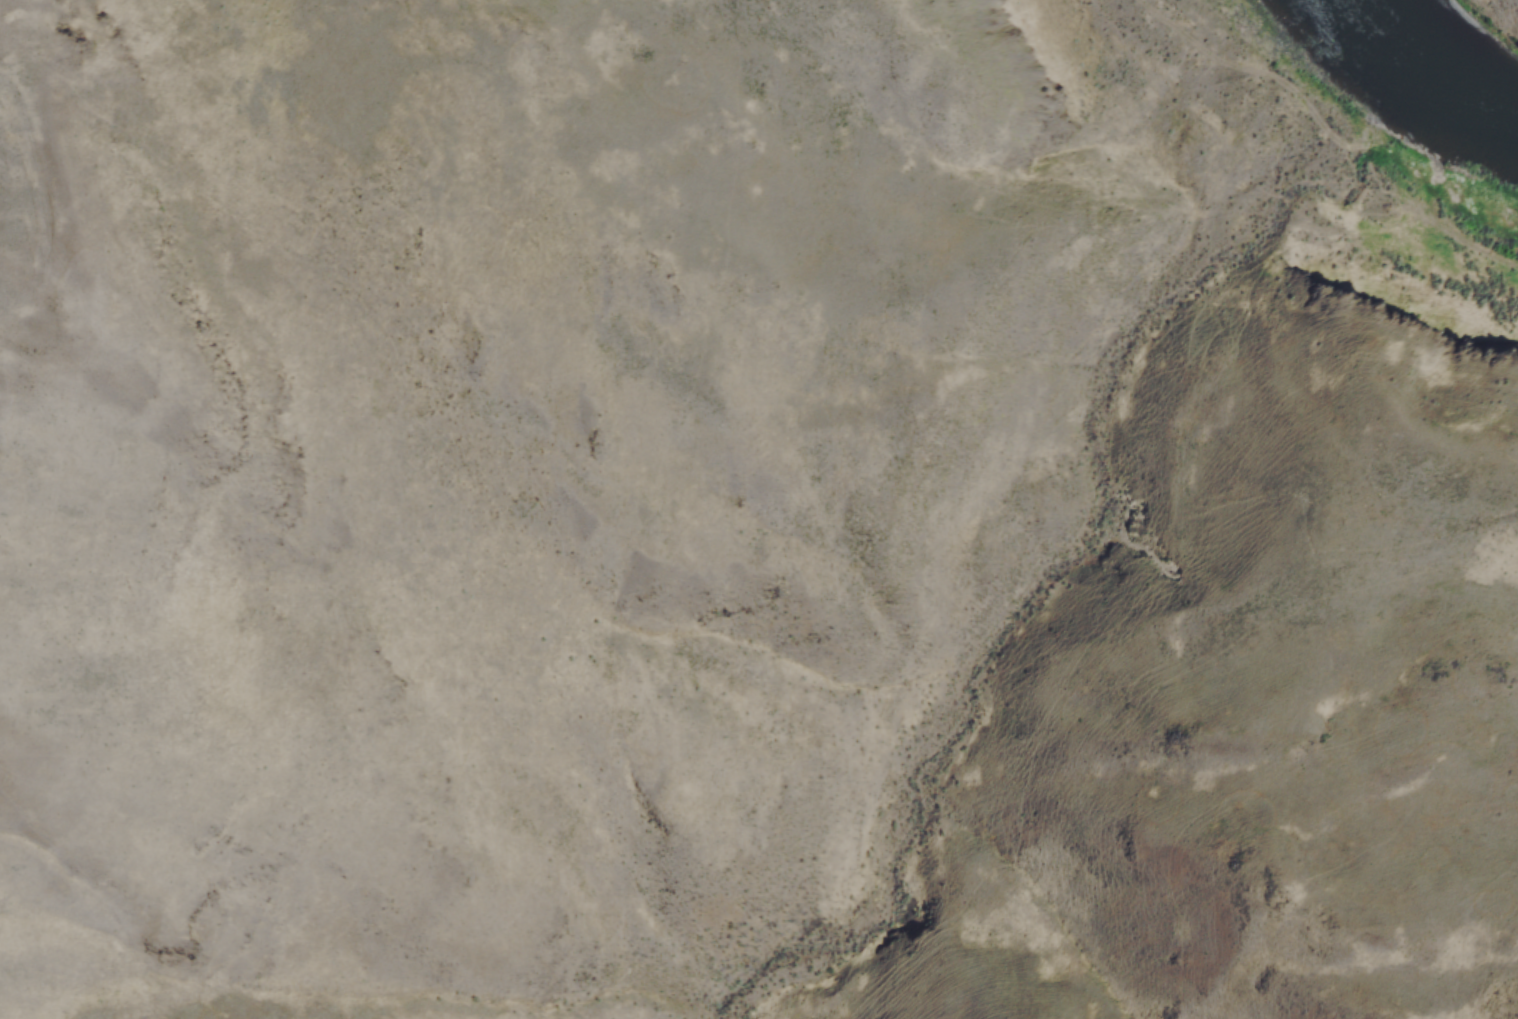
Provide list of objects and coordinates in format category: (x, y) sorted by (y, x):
river: (1441, 70)
road: (1466, 238)

